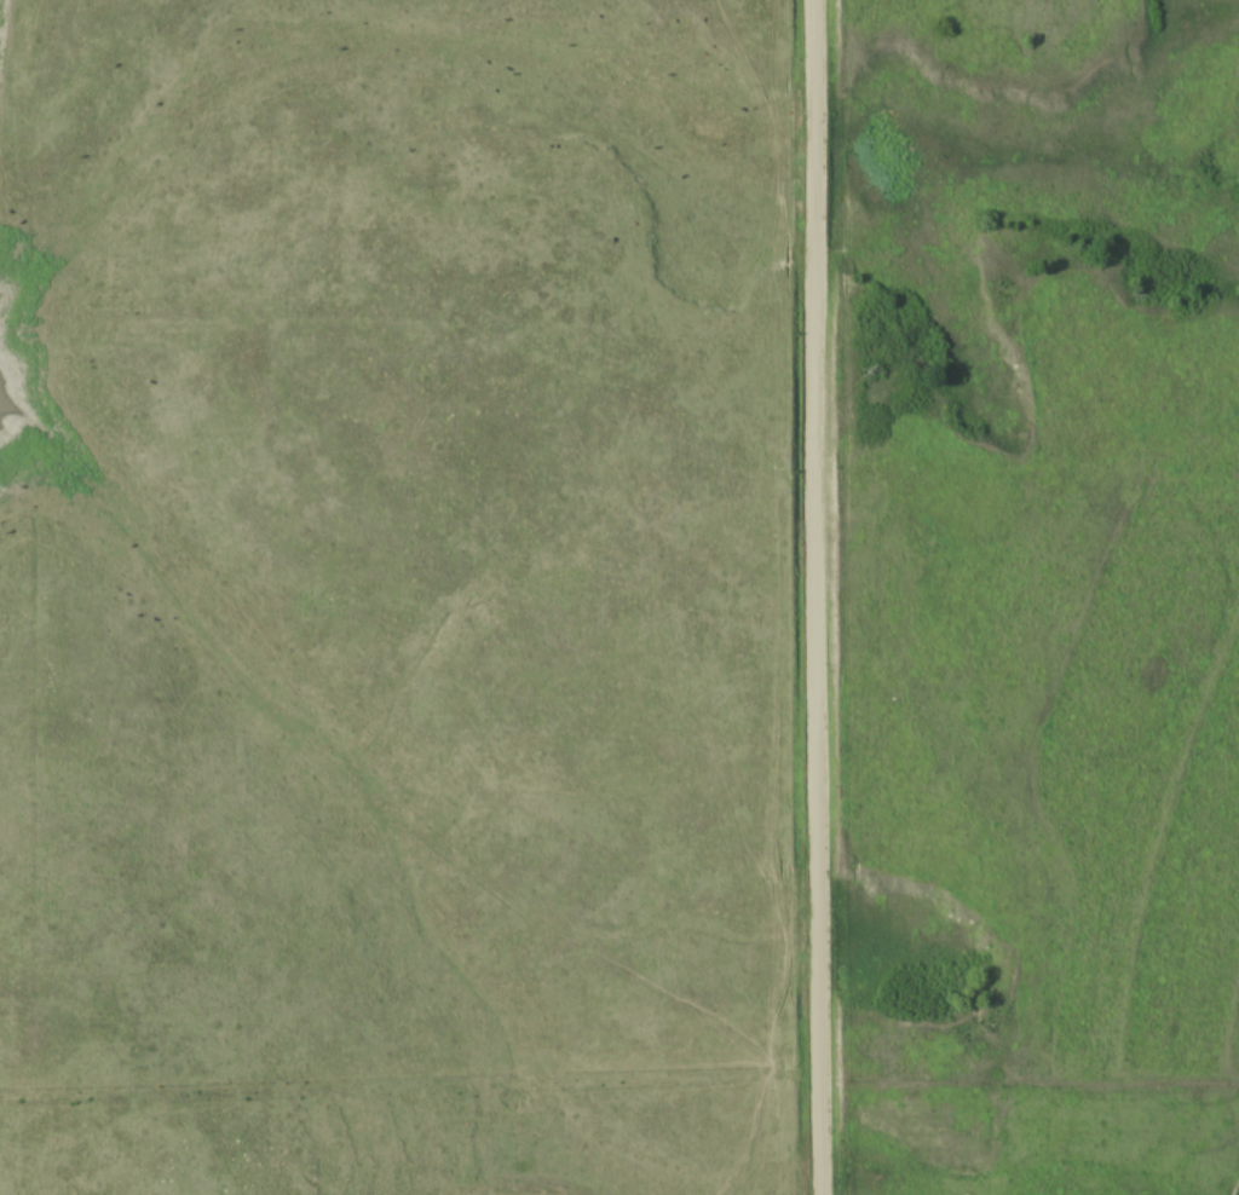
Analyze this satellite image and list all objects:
road: (809, 597)

